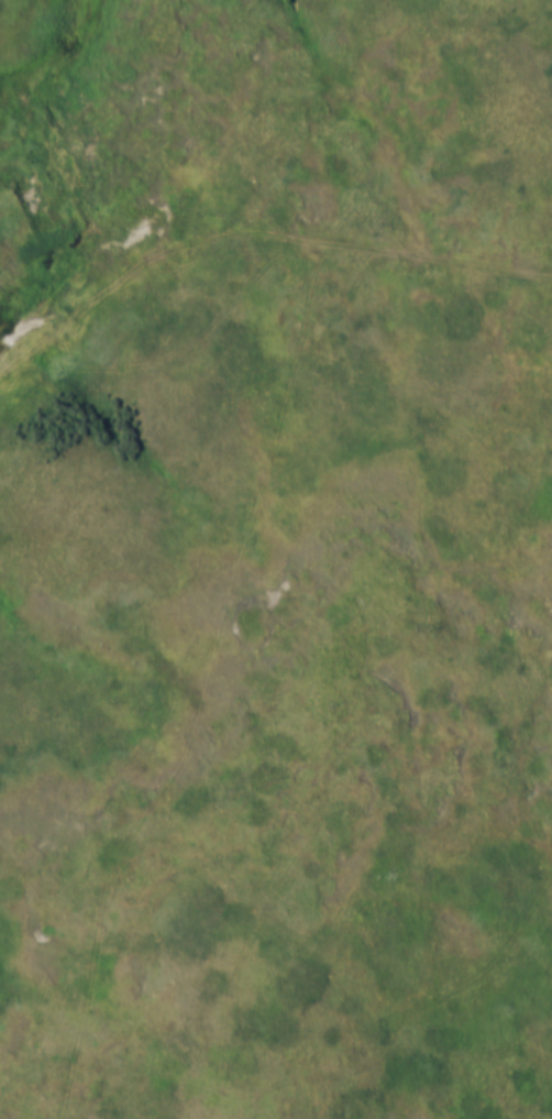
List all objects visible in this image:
road: (267, 234)

